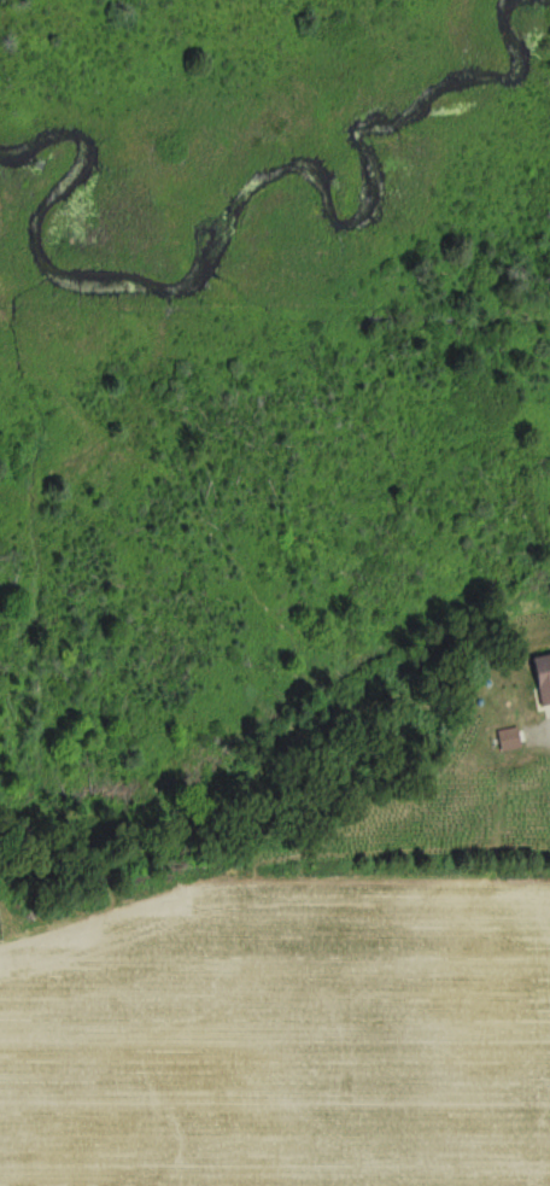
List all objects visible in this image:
building: (543, 682)
crop: (281, 1038)

